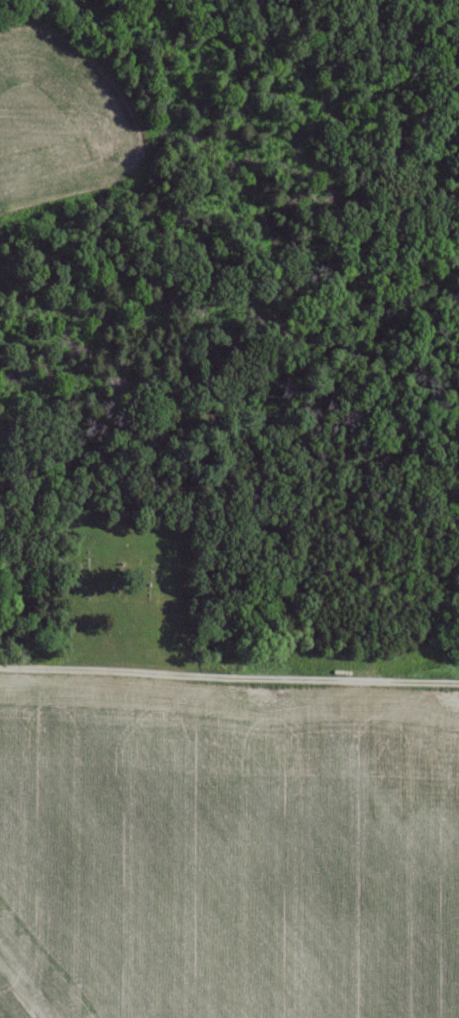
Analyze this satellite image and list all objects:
park: (131, 593)

